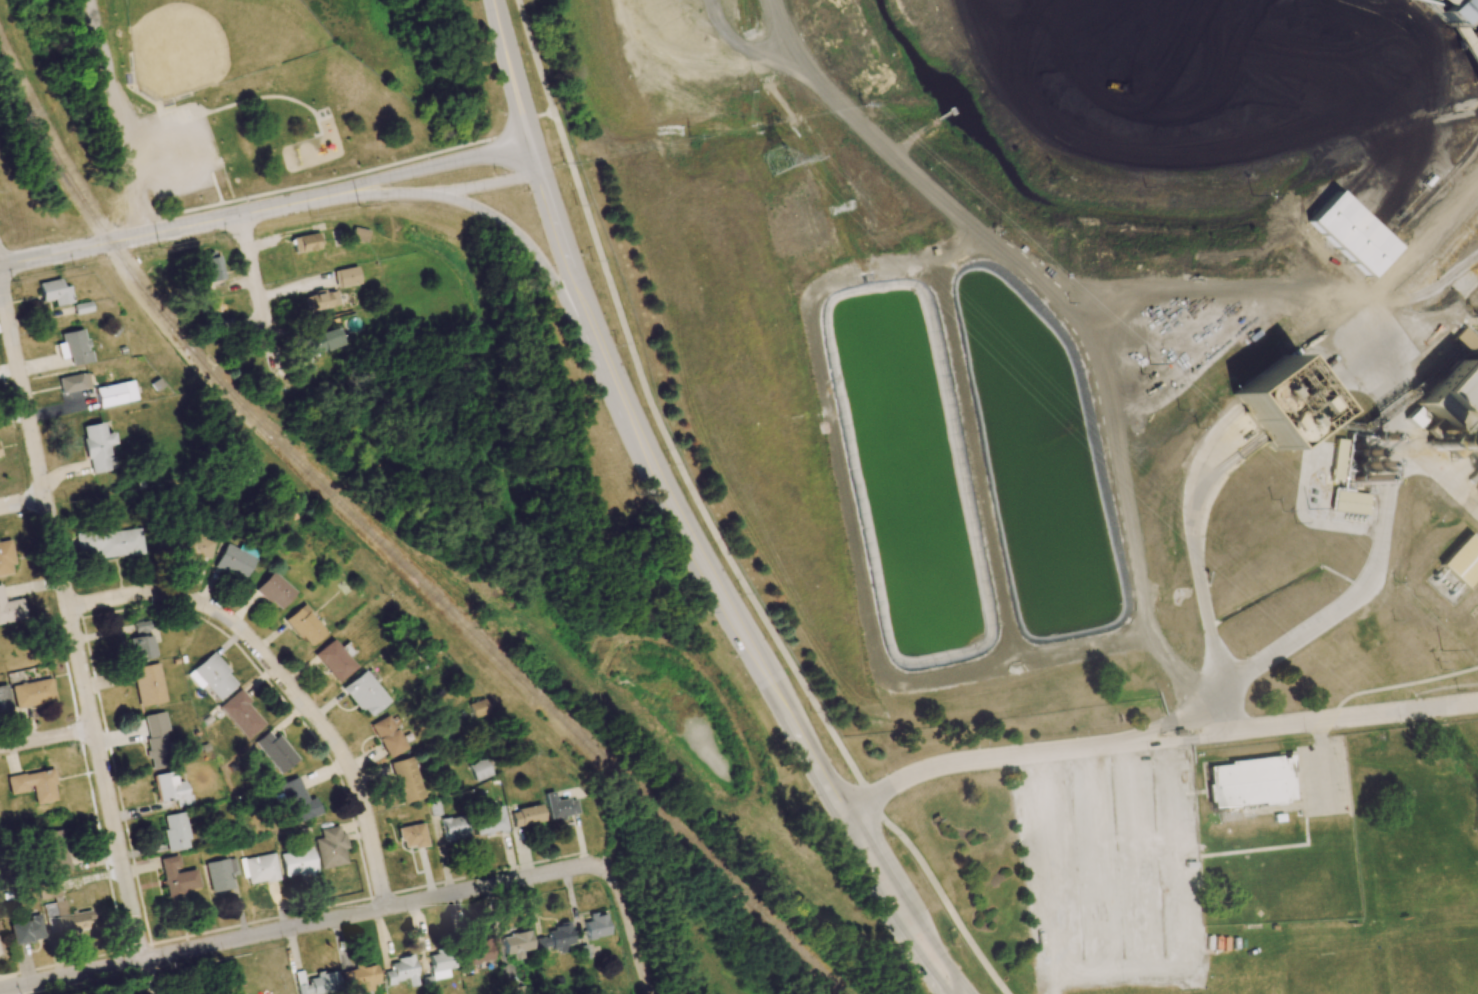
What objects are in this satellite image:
building: (1448, 11)
park: (214, 41)
road: (509, 72)
park: (269, 88)
road: (119, 117)
parking lot: (176, 157)
power tower: (779, 159)
road: (439, 165)
road: (348, 176)
road: (444, 190)
railway: (1434, 192)
road: (175, 228)
building: (1350, 234)
building: (305, 242)
road: (537, 261)
building: (211, 266)
building: (346, 276)
building: (54, 292)
building: (319, 300)
road: (258, 302)
building: (82, 307)
building: (1465, 341)
building: (320, 342)
building: (73, 347)
building: (74, 382)
building: (115, 394)
building: (1278, 403)
building: (1449, 429)
power plant: (1449, 429)
chimney: (1437, 441)
building: (97, 448)
road: (22, 501)
building: (1349, 502)
road: (708, 523)
building: (110, 542)
building: (187, 546)
railway: (386, 547)
building: (6, 559)
building: (233, 561)
building: (1462, 562)
road: (714, 583)
building: (273, 591)
building: (11, 610)
road: (1319, 619)
road: (72, 622)
building: (304, 626)
building: (140, 641)
building: (333, 661)
building: (212, 677)
road: (285, 683)
building: (148, 684)
building: (32, 693)
building: (364, 694)
building: (4, 698)
building: (478, 708)
building: (241, 714)
building: (386, 736)
road: (1158, 738)
road: (47, 739)
building: (157, 741)
building: (275, 752)
road: (1321, 760)
building: (480, 769)
building: (405, 779)
building: (1249, 782)
building: (33, 785)
building: (166, 786)
building: (296, 800)
building: (559, 807)
building: (434, 808)
building: (526, 815)
building: (489, 820)
building: (454, 828)
building: (175, 831)
building: (411, 836)
building: (331, 848)
building: (53, 851)
building: (298, 862)
building: (259, 869)
road: (1042, 873)
building: (220, 874)
building: (176, 878)
building: (47, 890)
road: (369, 911)
building: (68, 919)
building: (595, 926)
building: (26, 930)
building: (556, 938)
building: (516, 943)
building: (477, 952)
building: (440, 964)
park: (1440, 967)
building: (401, 972)
park: (1323, 974)
road: (149, 977)
building: (317, 983)
building: (517, 990)

